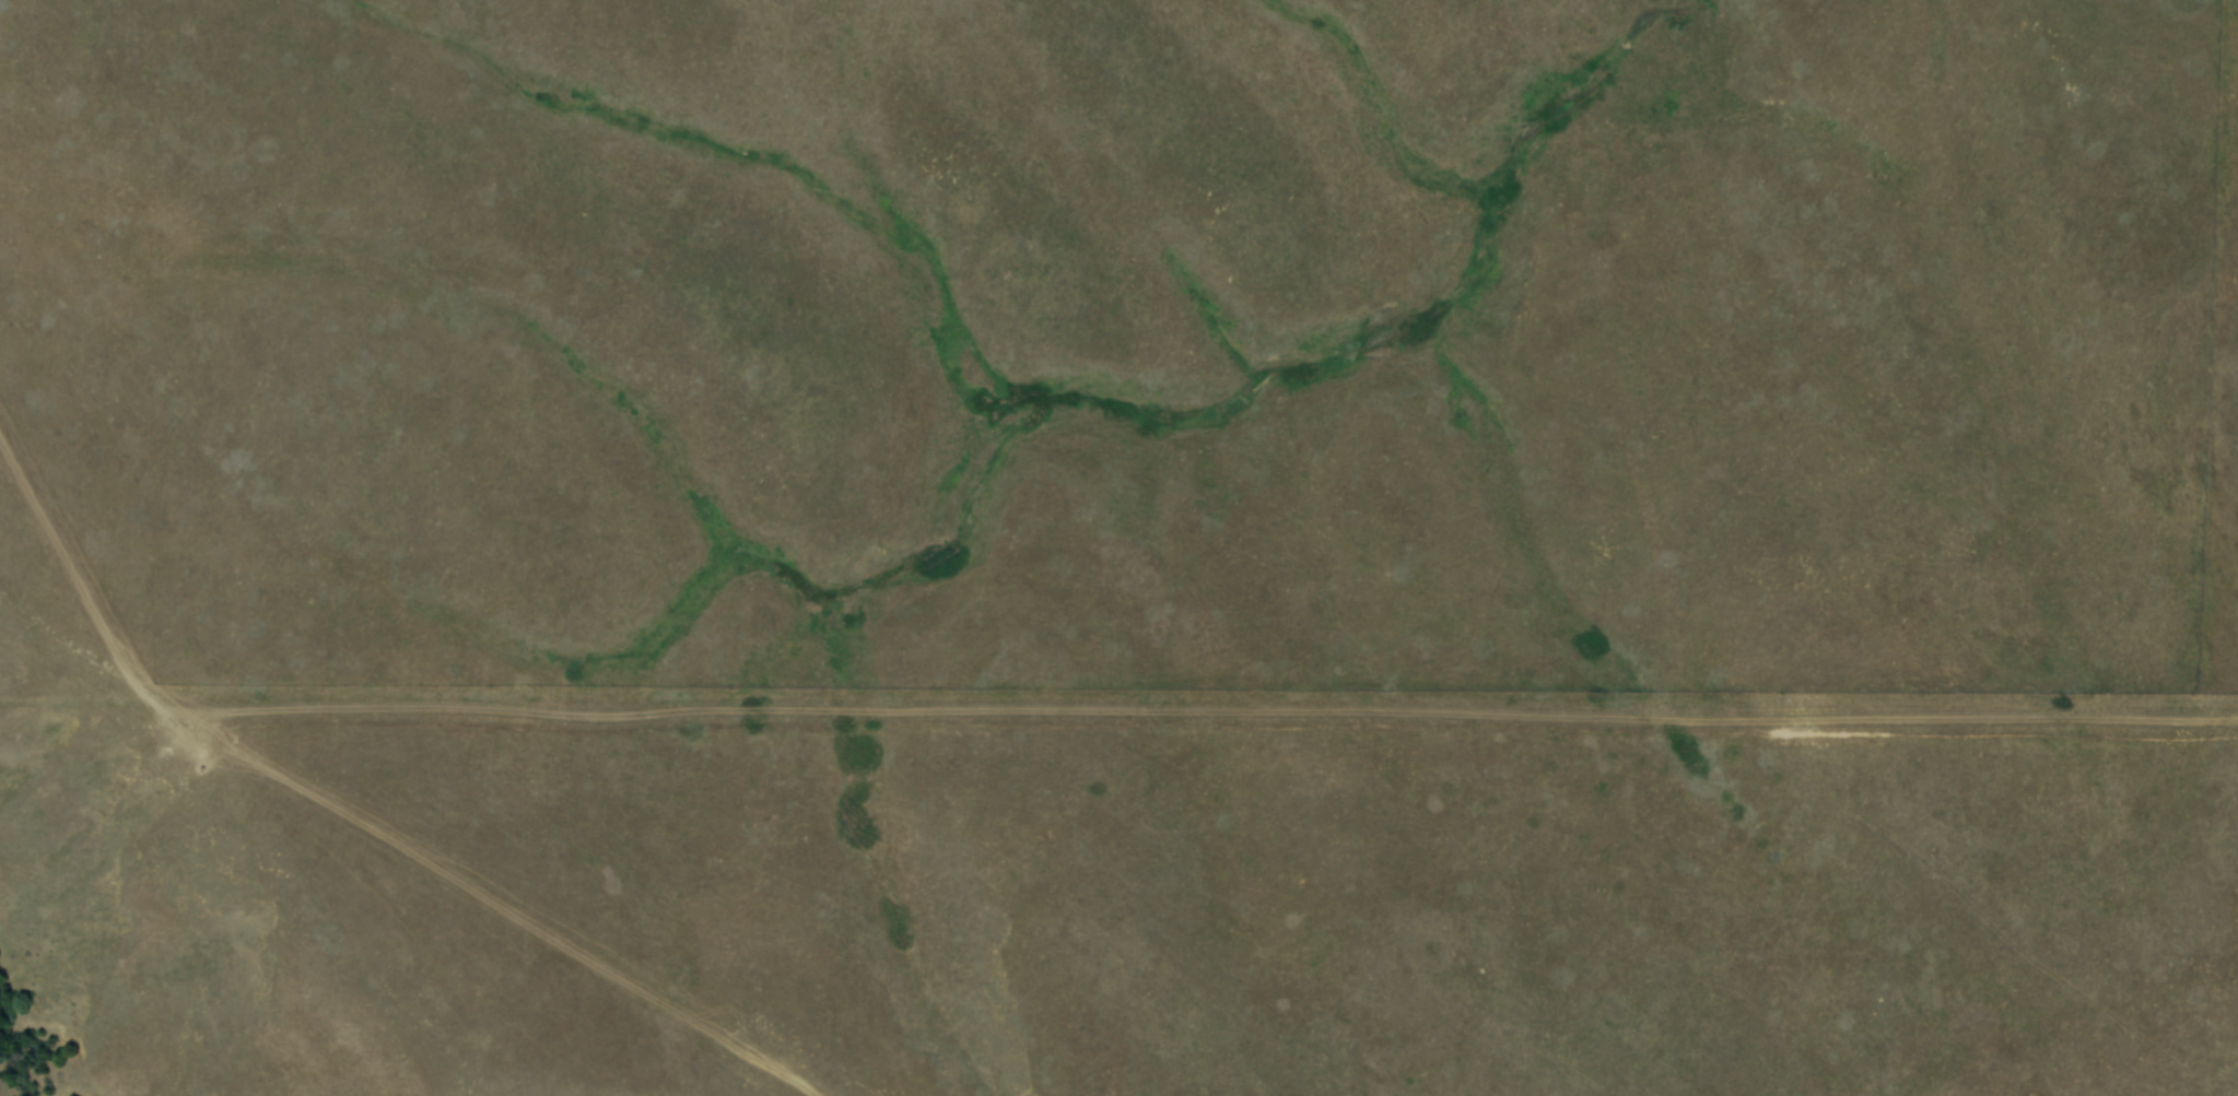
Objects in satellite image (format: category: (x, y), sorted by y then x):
road: (382, 885)

